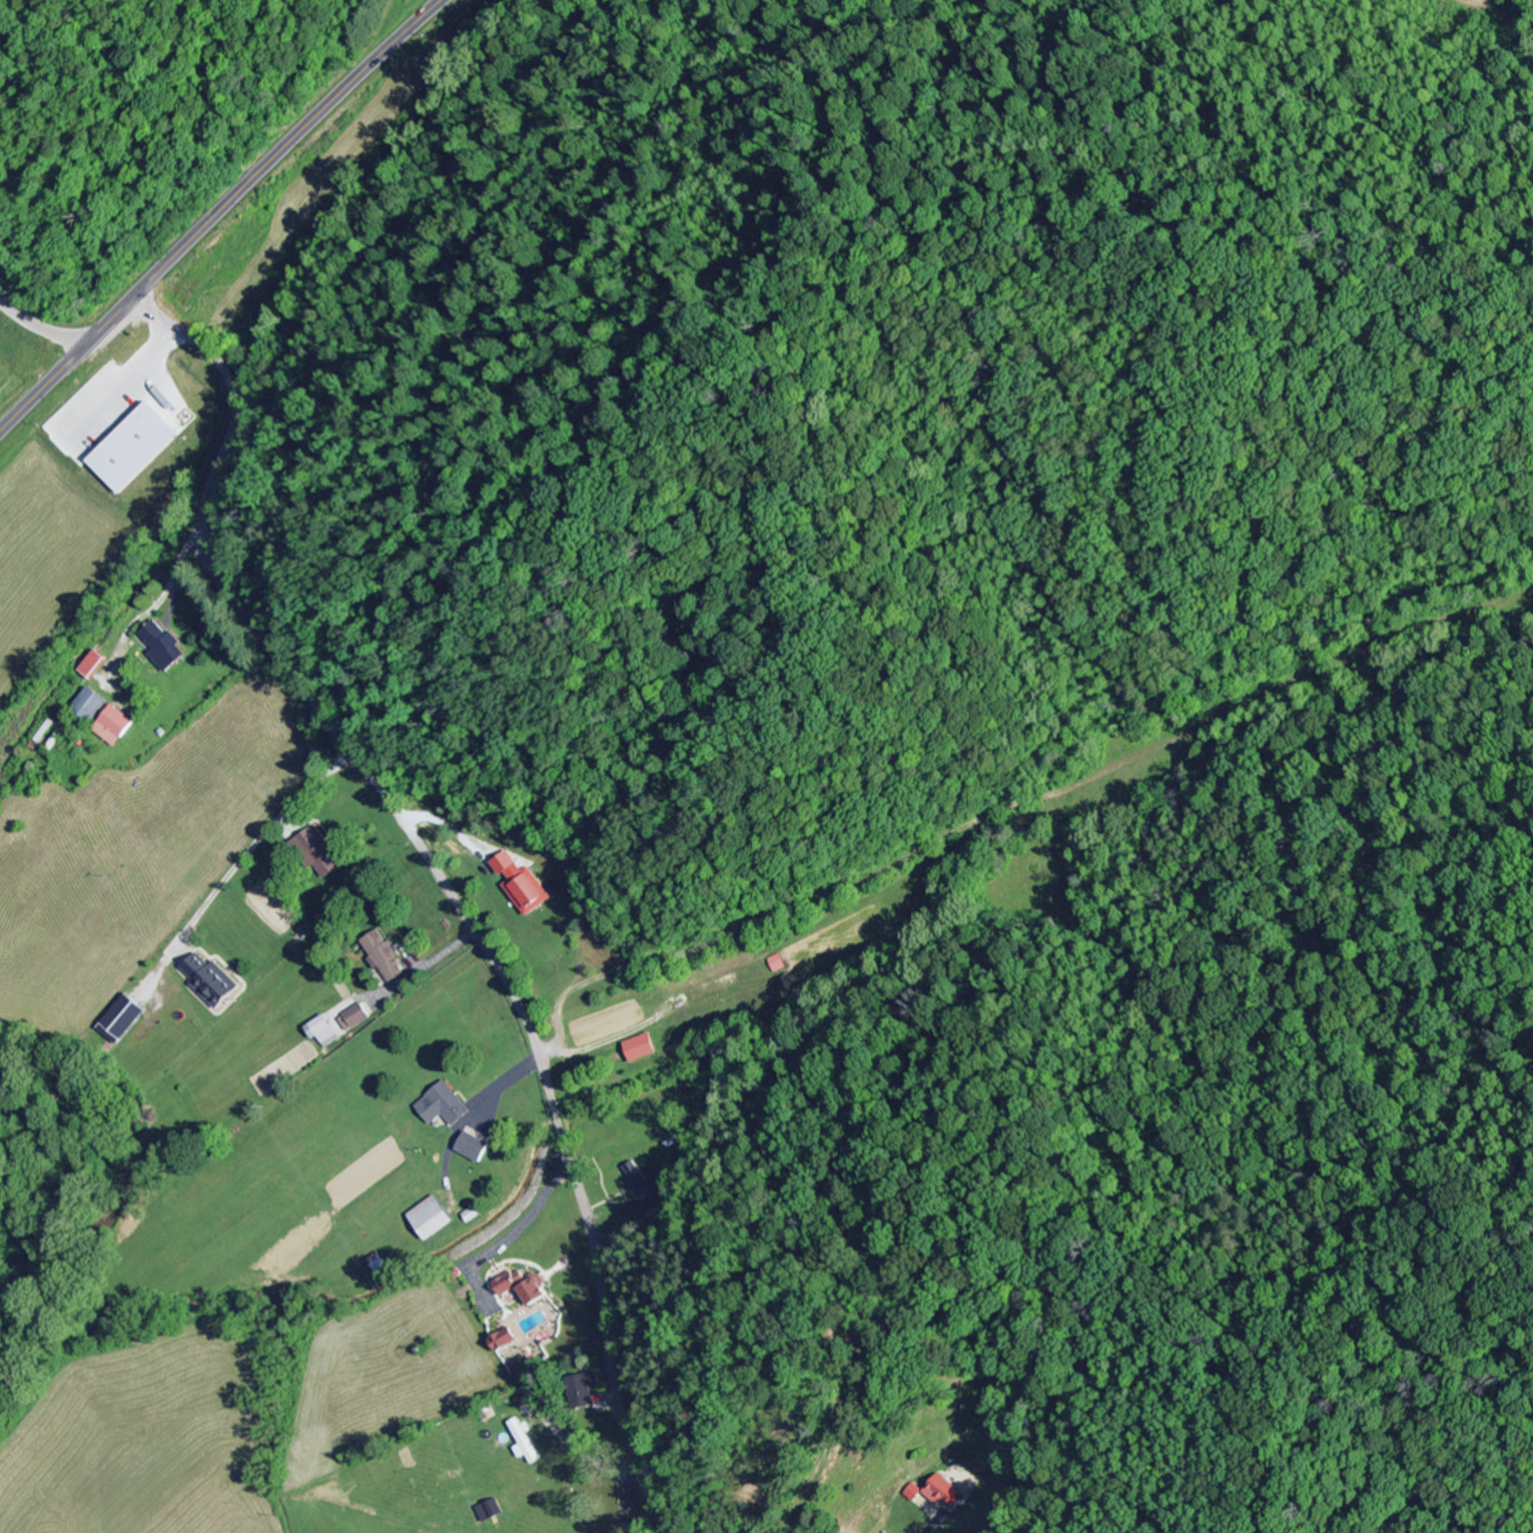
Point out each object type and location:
road: (215, 214)
road: (40, 328)
building: (134, 449)
building: (162, 647)
building: (93, 666)
building: (90, 706)
building: (113, 727)
road: (316, 781)
building: (318, 854)
road: (440, 877)
building: (521, 886)
building: (384, 958)
building: (775, 964)
building: (212, 981)
building: (125, 1019)
building: (355, 1019)
building: (324, 1033)
building: (641, 1049)
building: (444, 1107)
building: (474, 1148)
building: (640, 1181)
building: (432, 1220)
building: (378, 1263)
building: (523, 1288)
building: (505, 1340)
building: (583, 1390)
building: (524, 1442)
building: (913, 1493)
building: (944, 1493)
building: (490, 1511)

